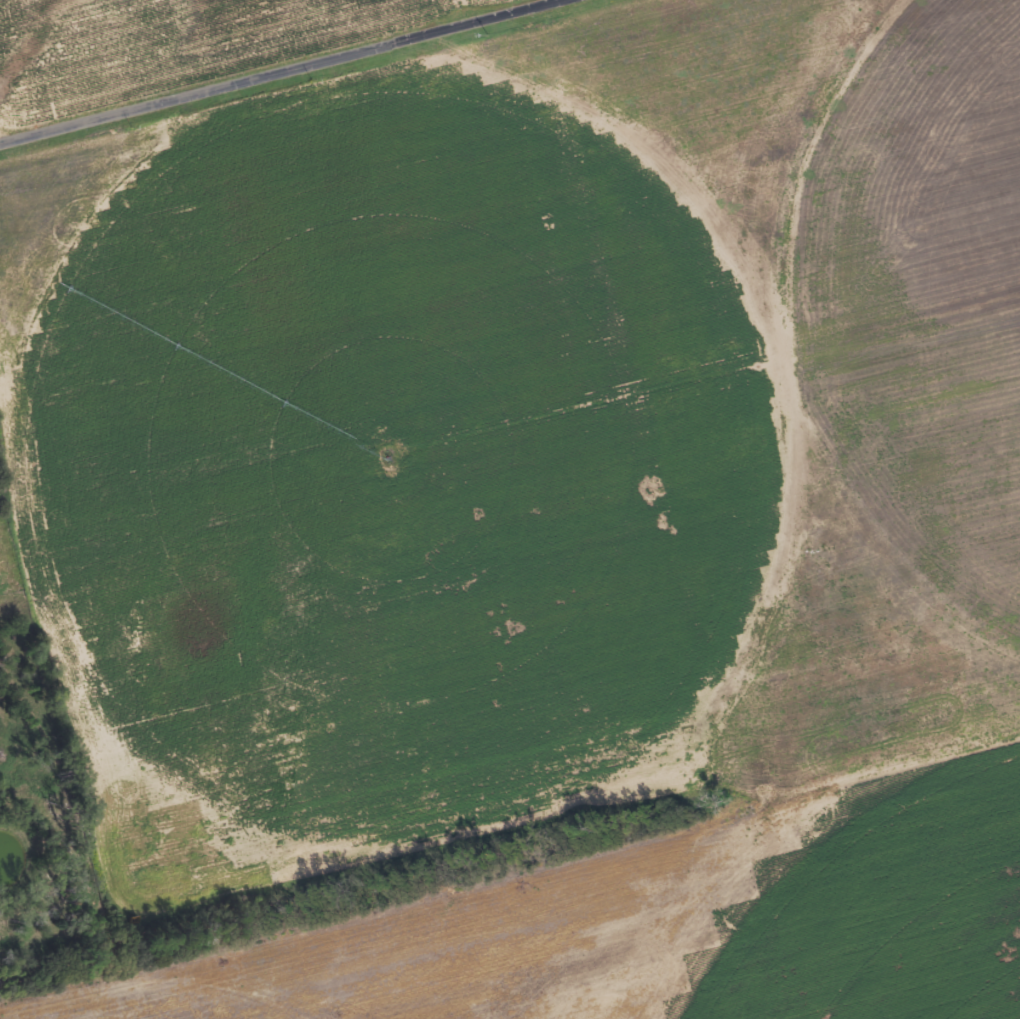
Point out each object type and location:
road: (279, 70)

